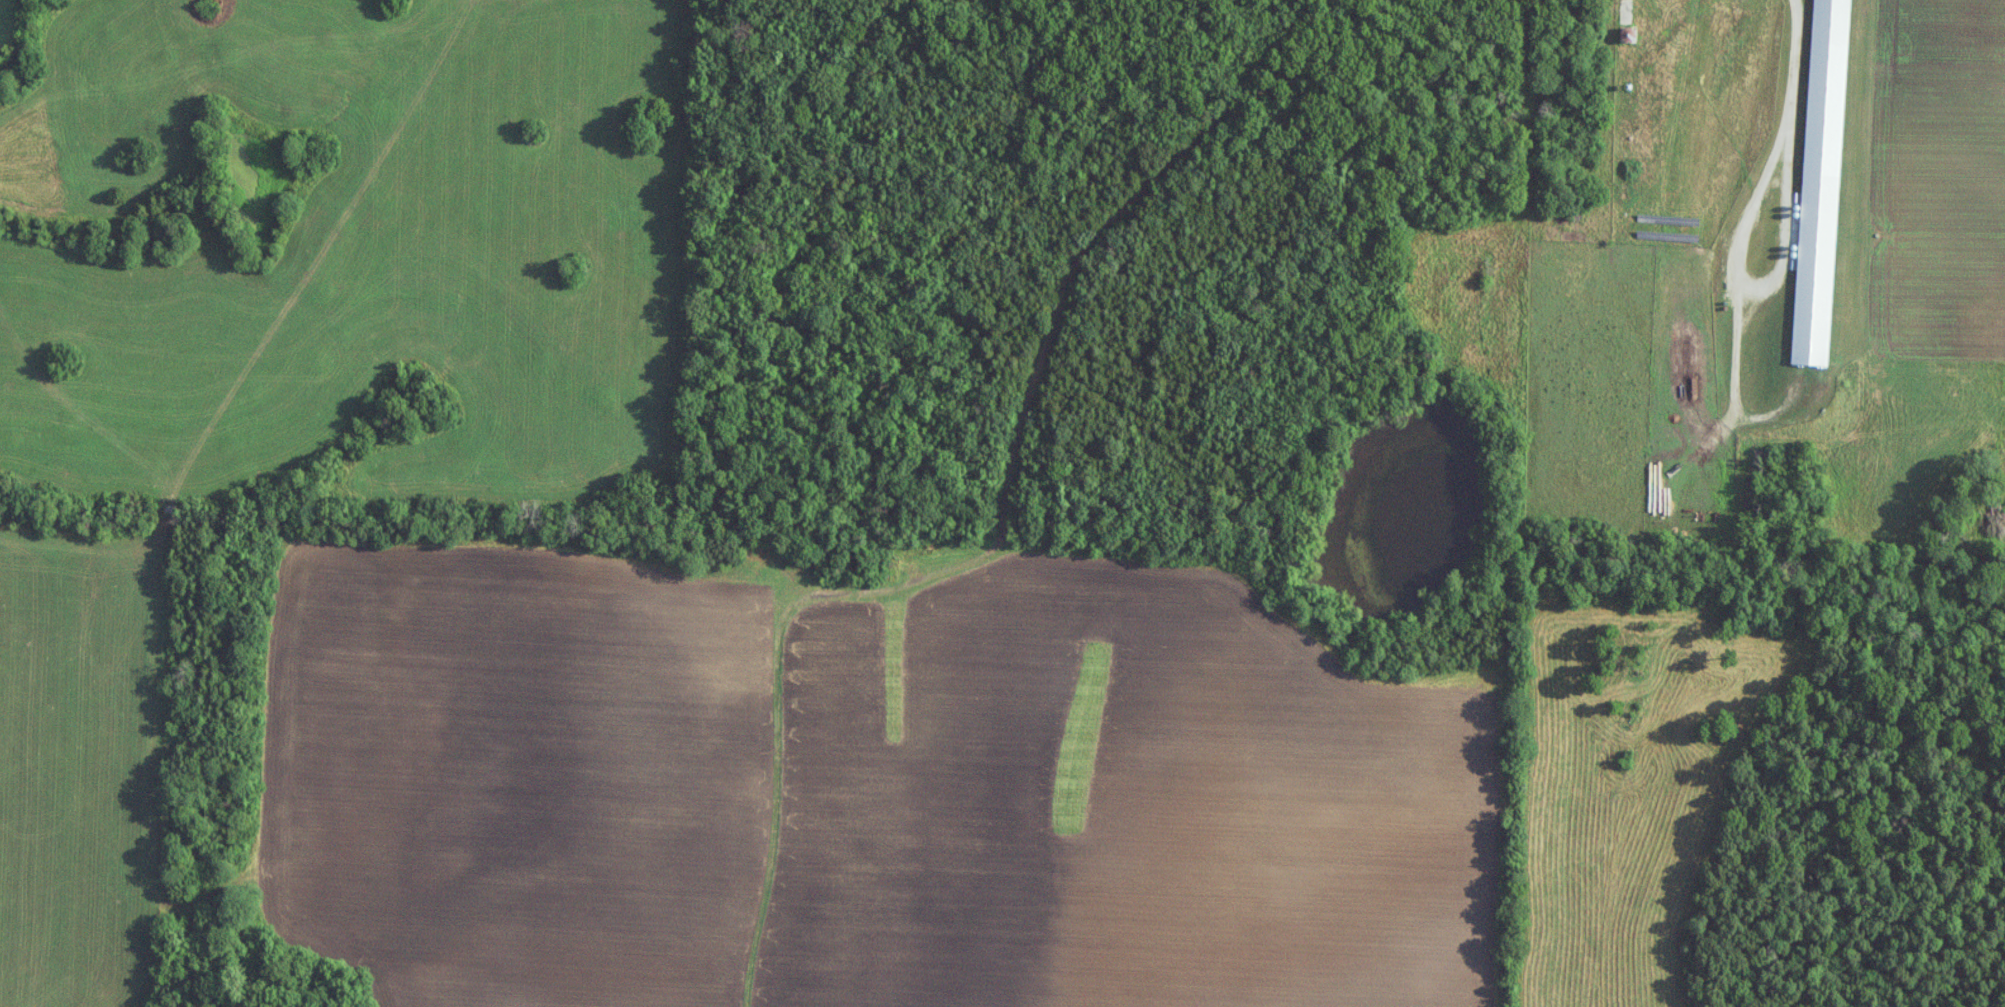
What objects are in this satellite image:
building: (1392, 2)
road: (1790, 67)
road: (1752, 282)

